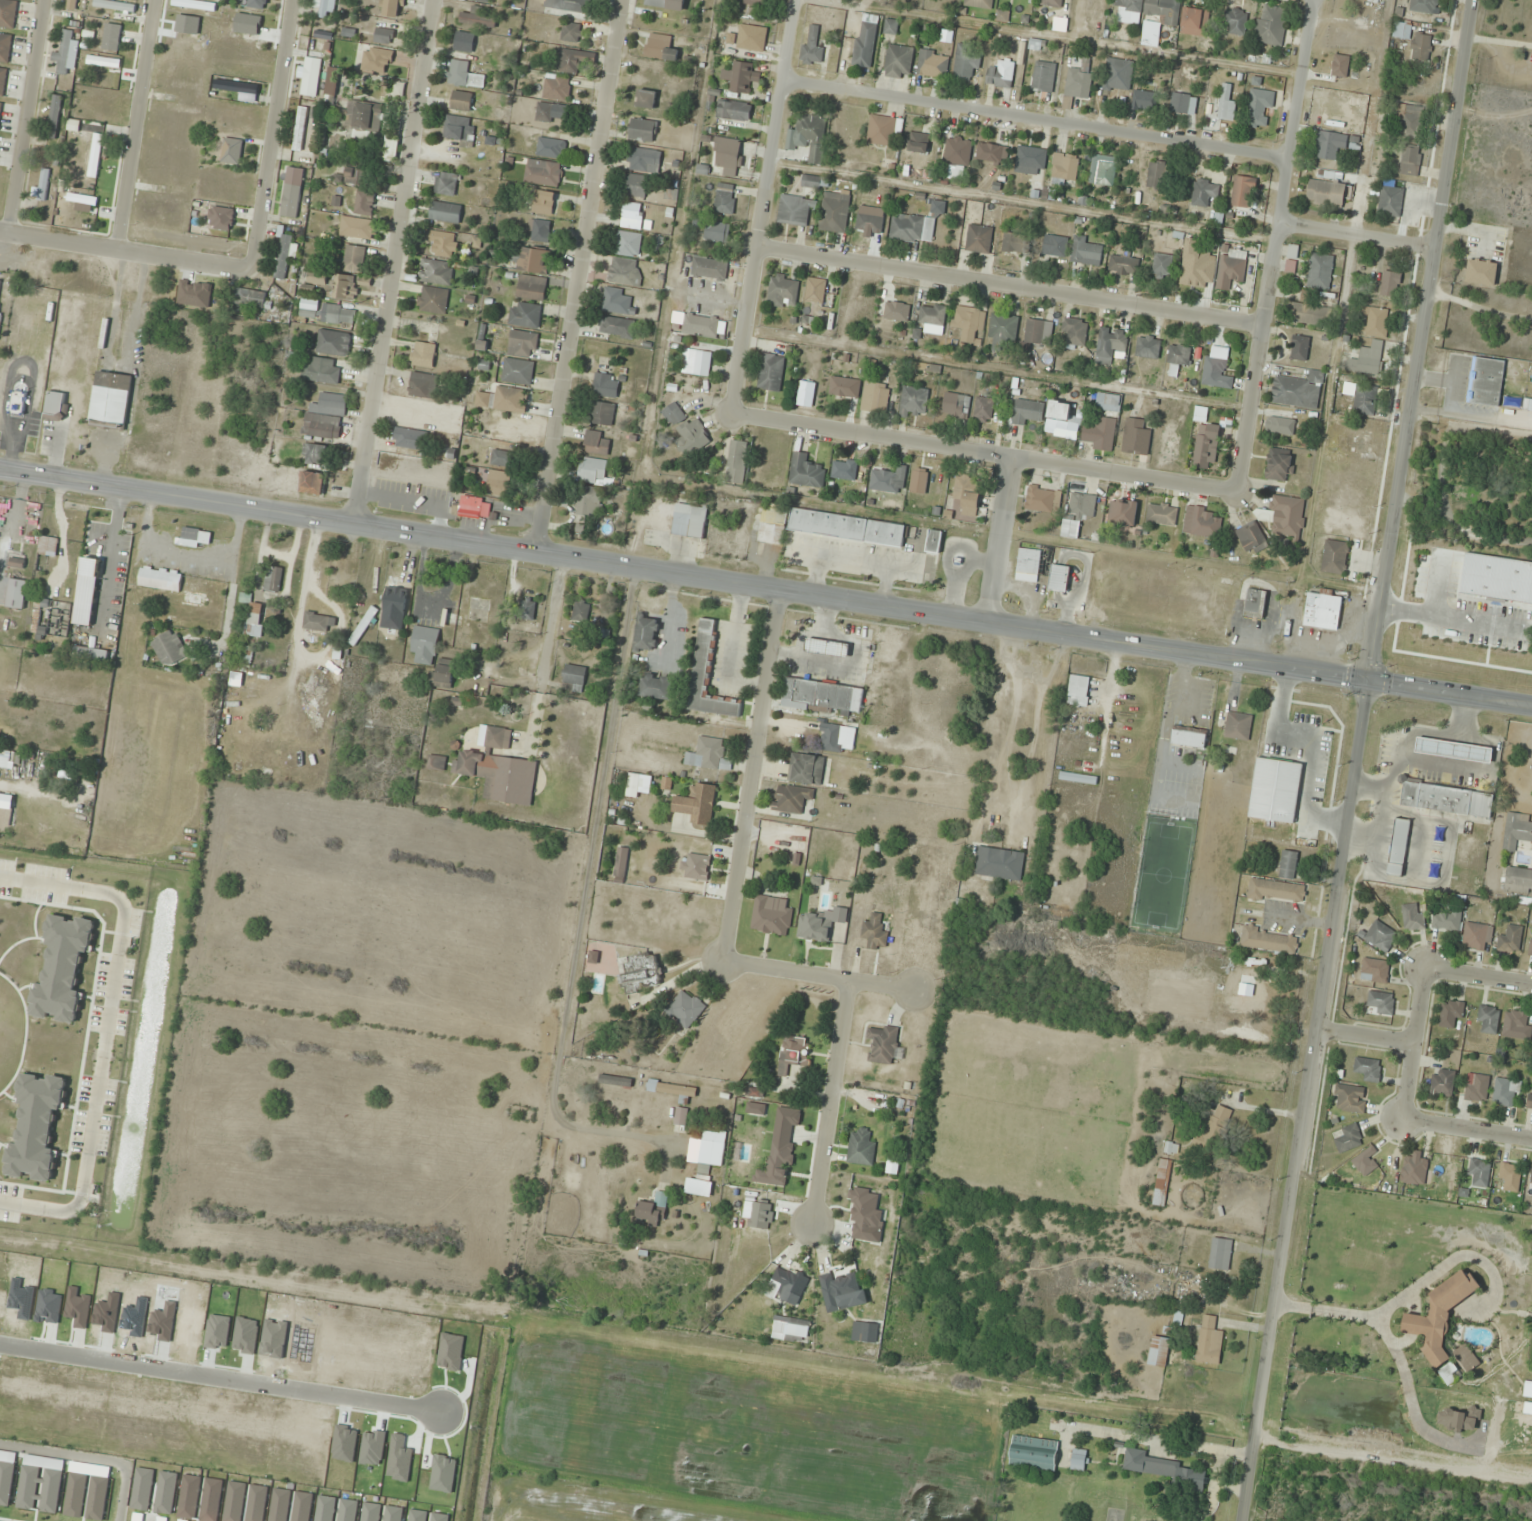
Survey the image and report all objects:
building: (482, 1)
building: (756, 2)
building: (979, 3)
building: (1052, 3)
building: (72, 4)
building: (256, 4)
building: (665, 4)
building: (572, 5)
building: (1424, 6)
building: (325, 8)
building: (393, 8)
building: (1128, 10)
building: (1162, 10)
building: (7, 13)
building: (478, 18)
building: (1195, 21)
building: (1235, 21)
building: (1375, 24)
building: (1271, 25)
building: (890, 26)
building: (570, 32)
building: (751, 38)
building: (865, 41)
building: (1415, 41)
building: (464, 42)
building: (5, 47)
building: (660, 47)
building: (66, 53)
building: (379, 53)
building: (573, 60)
building: (898, 61)
building: (966, 62)
building: (933, 64)
building: (1001, 74)
building: (1117, 74)
building: (464, 75)
building: (742, 76)
building: (1043, 77)
building: (2, 81)
building: (1078, 82)
building: (331, 83)
building: (236, 87)
building: (557, 88)
building: (646, 99)
building: (1144, 100)
building: (461, 101)
building: (1226, 103)
building: (1183, 104)
building: (0, 108)
building: (1259, 108)
building: (733, 110)
building: (552, 113)
road: (24, 116)
building: (54, 118)
building: (365, 118)
road: (1040, 121)
building: (1411, 122)
road: (133, 125)
building: (300, 128)
building: (460, 130)
building: (642, 130)
building: (884, 130)
road: (271, 133)
building: (809, 137)
building: (918, 142)
building: (1326, 145)
building: (550, 148)
building: (391, 149)
building: (231, 151)
building: (990, 153)
building: (727, 155)
building: (958, 156)
building: (643, 159)
building: (1030, 160)
building: (1410, 162)
building: (1065, 168)
building: (1103, 170)
building: (543, 173)
building: (1156, 174)
building: (355, 175)
building: (817, 182)
building: (446, 183)
building: (43, 184)
building: (636, 186)
building: (1204, 192)
building: (1243, 192)
building: (1328, 193)
building: (725, 198)
building: (290, 200)
building: (1390, 201)
building: (364, 203)
building: (543, 203)
road: (765, 205)
building: (794, 211)
building: (445, 212)
building: (834, 212)
building: (630, 215)
building: (869, 223)
building: (356, 228)
building: (912, 228)
building: (540, 231)
building: (717, 232)
road: (1357, 233)
building: (978, 239)
building: (442, 243)
building: (1016, 243)
building: (627, 244)
road: (1277, 245)
building: (1055, 246)
road: (125, 251)
building: (1086, 252)
building: (283, 257)
building: (353, 259)
building: (533, 260)
road: (391, 261)
building: (1123, 265)
building: (1162, 266)
building: (709, 267)
building: (1231, 267)
building: (1194, 268)
building: (1320, 271)
building: (437, 272)
building: (624, 272)
building: (1481, 272)
road: (579, 276)
building: (1390, 284)
building: (344, 287)
building: (531, 288)
road: (1011, 288)
building: (1, 289)
building: (783, 290)
building: (815, 291)
building: (250, 298)
building: (434, 300)
building: (618, 302)
building: (308, 308)
building: (896, 311)
building: (1310, 314)
building: (340, 315)
building: (525, 315)
building: (932, 315)
building: (1375, 322)
building: (969, 324)
building: (700, 325)
building: (617, 327)
building: (1002, 331)
building: (1074, 332)
building: (1032, 333)
building: (333, 343)
building: (522, 343)
building: (1109, 344)
building: (1147, 347)
building: (1299, 348)
building: (424, 355)
building: (1177, 358)
building: (699, 363)
building: (1365, 363)
building: (321, 370)
building: (517, 371)
building: (771, 372)
building: (1215, 373)
building: (1486, 381)
building: (423, 385)
building: (606, 385)
building: (1298, 391)
building: (806, 394)
building: (875, 397)
building: (511, 399)
building: (1365, 399)
building: (111, 400)
building: (483, 400)
building: (914, 402)
building: (1108, 403)
building: (1518, 403)
building: (56, 406)
building: (956, 407)
building: (983, 410)
building: (1028, 412)
building: (602, 414)
building: (673, 415)
building: (326, 417)
building: (1060, 421)
building: (1280, 425)
building: (1100, 434)
building: (692, 437)
building: (1136, 438)
building: (410, 439)
building: (597, 443)
building: (1362, 444)
building: (1206, 446)
building: (315, 453)
road: (983, 454)
building: (503, 458)
building: (736, 464)
building: (1280, 466)
building: (592, 470)
building: (843, 470)
building: (806, 472)
building: (888, 481)
building: (919, 481)
building: (312, 483)
building: (499, 483)
building: (967, 491)
building: (1040, 501)
building: (1082, 508)
building: (1123, 513)
building: (1161, 514)
building: (1287, 517)
building: (689, 520)
building: (773, 524)
building: (1205, 524)
building: (847, 528)
building: (1251, 537)
building: (192, 538)
road: (999, 541)
building: (934, 542)
building: (48, 546)
building: (96, 556)
building: (1334, 557)
building: (17, 561)
building: (1027, 568)
building: (160, 579)
building: (273, 579)
building: (1059, 579)
road: (765, 588)
building: (203, 589)
building: (16, 594)
building: (396, 601)
building: (1255, 602)
building: (1322, 610)
building: (581, 612)
building: (254, 619)
building: (319, 623)
building: (362, 626)
building: (646, 633)
building: (94, 638)
building: (424, 645)
building: (169, 648)
building: (827, 648)
road: (544, 652)
building: (442, 674)
building: (708, 676)
building: (574, 678)
traffic signals: (1371, 682)
building: (655, 687)
building: (1078, 692)
building: (821, 697)
building: (1238, 726)
building: (837, 738)
building: (1189, 738)
building: (1453, 750)
building: (709, 753)
building: (6, 759)
road: (1359, 760)
building: (436, 763)
building: (498, 768)
building: (806, 769)
road: (752, 776)
building: (1077, 778)
building: (1275, 790)
building: (791, 798)
building: (1447, 800)
building: (697, 803)
building: (1517, 831)
building: (1398, 848)
building: (621, 861)
building: (999, 864)
building: (1288, 865)
building: (696, 867)
building: (1518, 880)
building: (1276, 891)
building: (771, 916)
building: (1412, 918)
building: (1446, 921)
building: (820, 924)
building: (875, 933)
building: (1380, 936)
building: (1477, 937)
building: (1510, 940)
building: (1269, 941)
building: (1530, 947)
building: (1374, 970)
building: (641, 973)
road: (821, 977)
road: (1479, 978)
building: (1380, 1003)
building: (685, 1010)
building: (1450, 1013)
building: (1488, 1019)
building: (1516, 1025)
road: (1366, 1037)
road: (1413, 1043)
building: (884, 1045)
building: (793, 1054)
building: (1368, 1069)
building: (615, 1081)
building: (1442, 1083)
building: (1476, 1088)
building: (673, 1090)
building: (1506, 1092)
building: (1349, 1099)
road: (833, 1101)
building: (1529, 1102)
building: (680, 1117)
building: (1211, 1127)
road: (1467, 1128)
building: (1348, 1138)
building: (860, 1147)
building: (711, 1150)
building: (1365, 1161)
building: (1414, 1168)
building: (1478, 1172)
building: (1510, 1178)
building: (1531, 1182)
building: (653, 1208)
building: (1220, 1254)
building: (788, 1285)
building: (842, 1291)
building: (1440, 1316)
building: (790, 1329)
building: (864, 1332)
building: (1209, 1341)
building: (1158, 1352)
road: (220, 1383)
building: (1033, 1453)
road: (1393, 1454)
road: (93, 1457)
building: (1078, 1460)
building: (1161, 1468)

